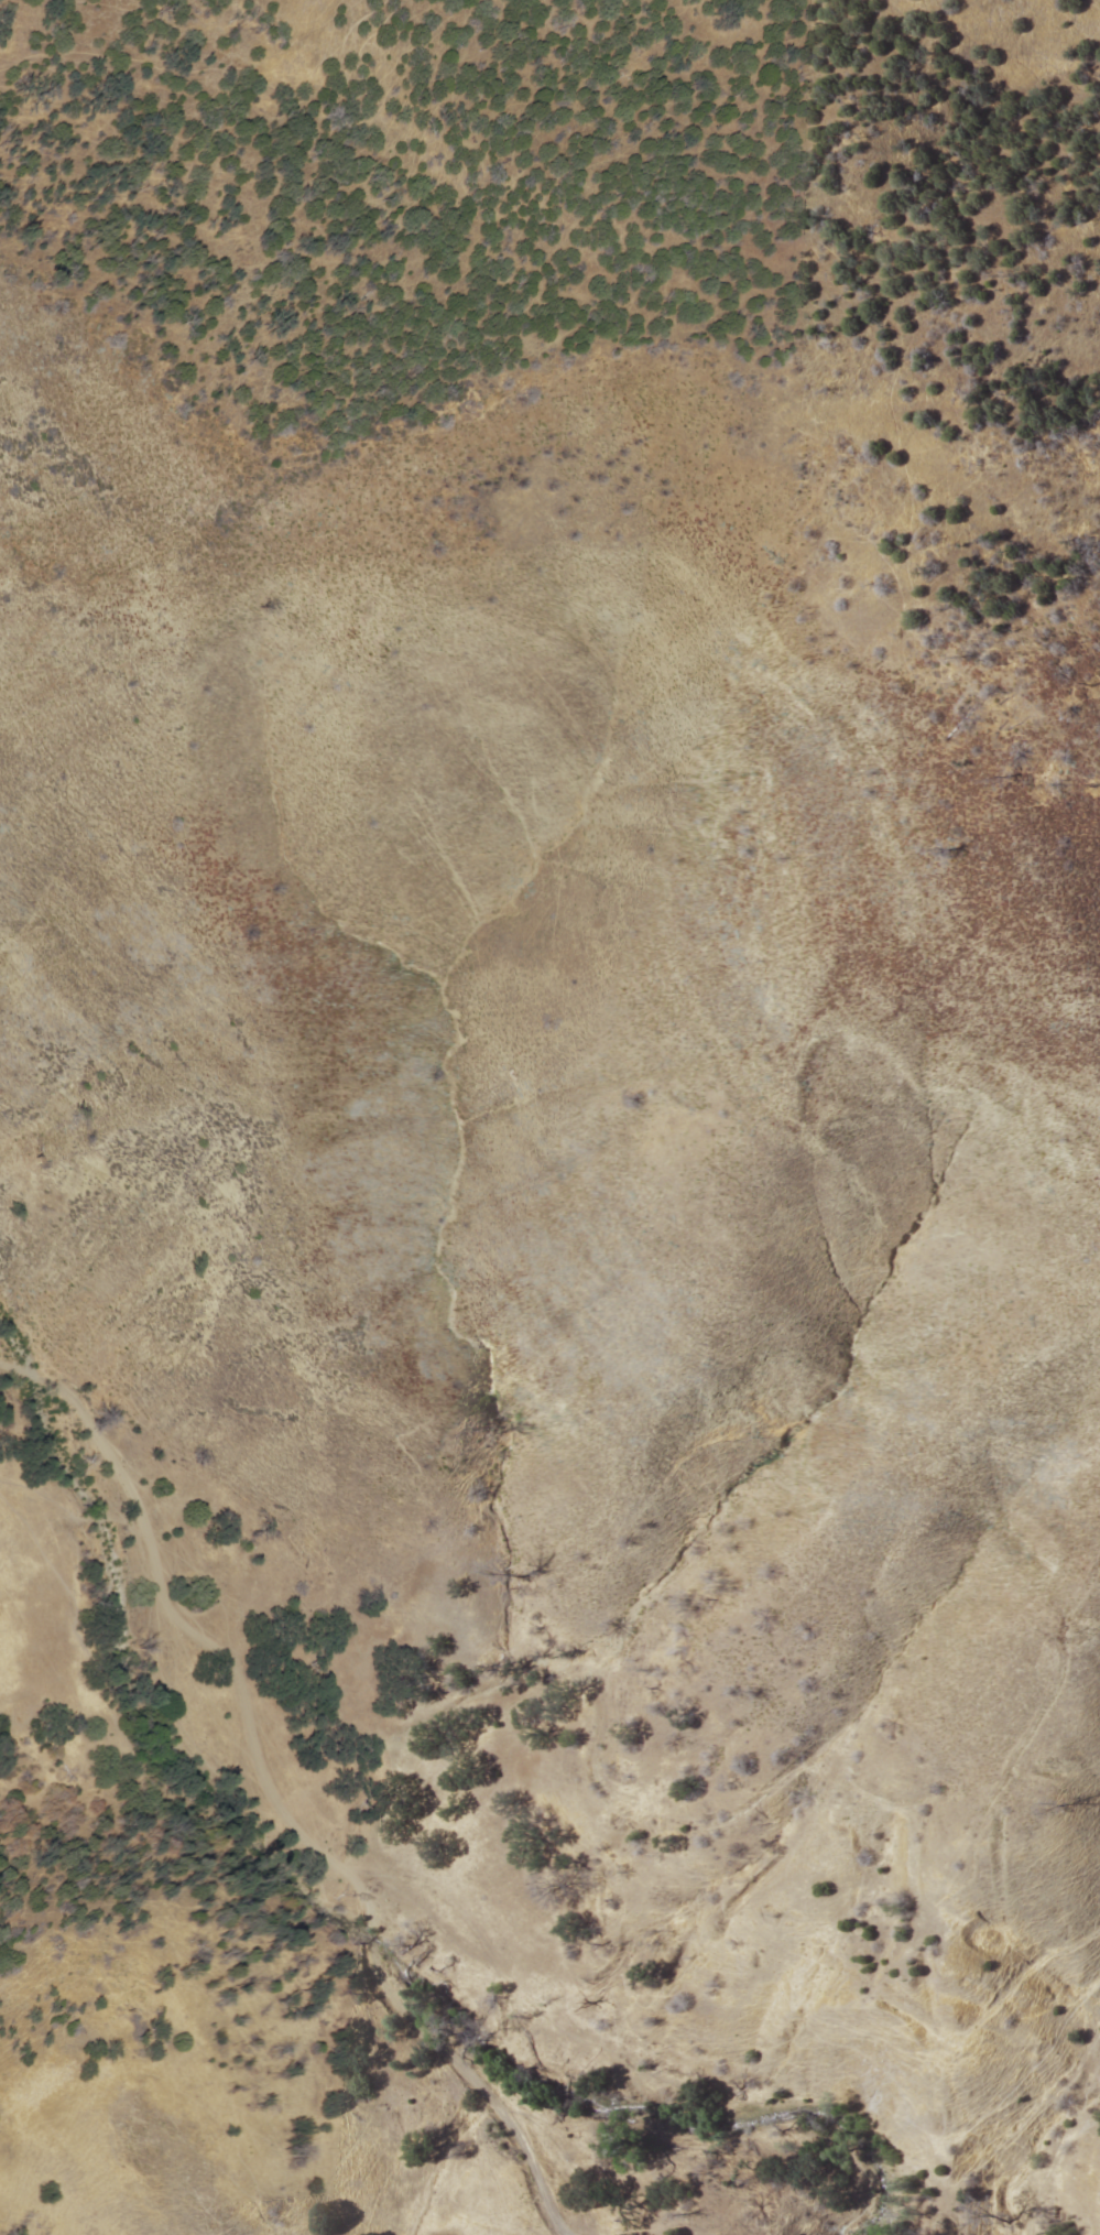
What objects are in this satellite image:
road: (306, 1847)

